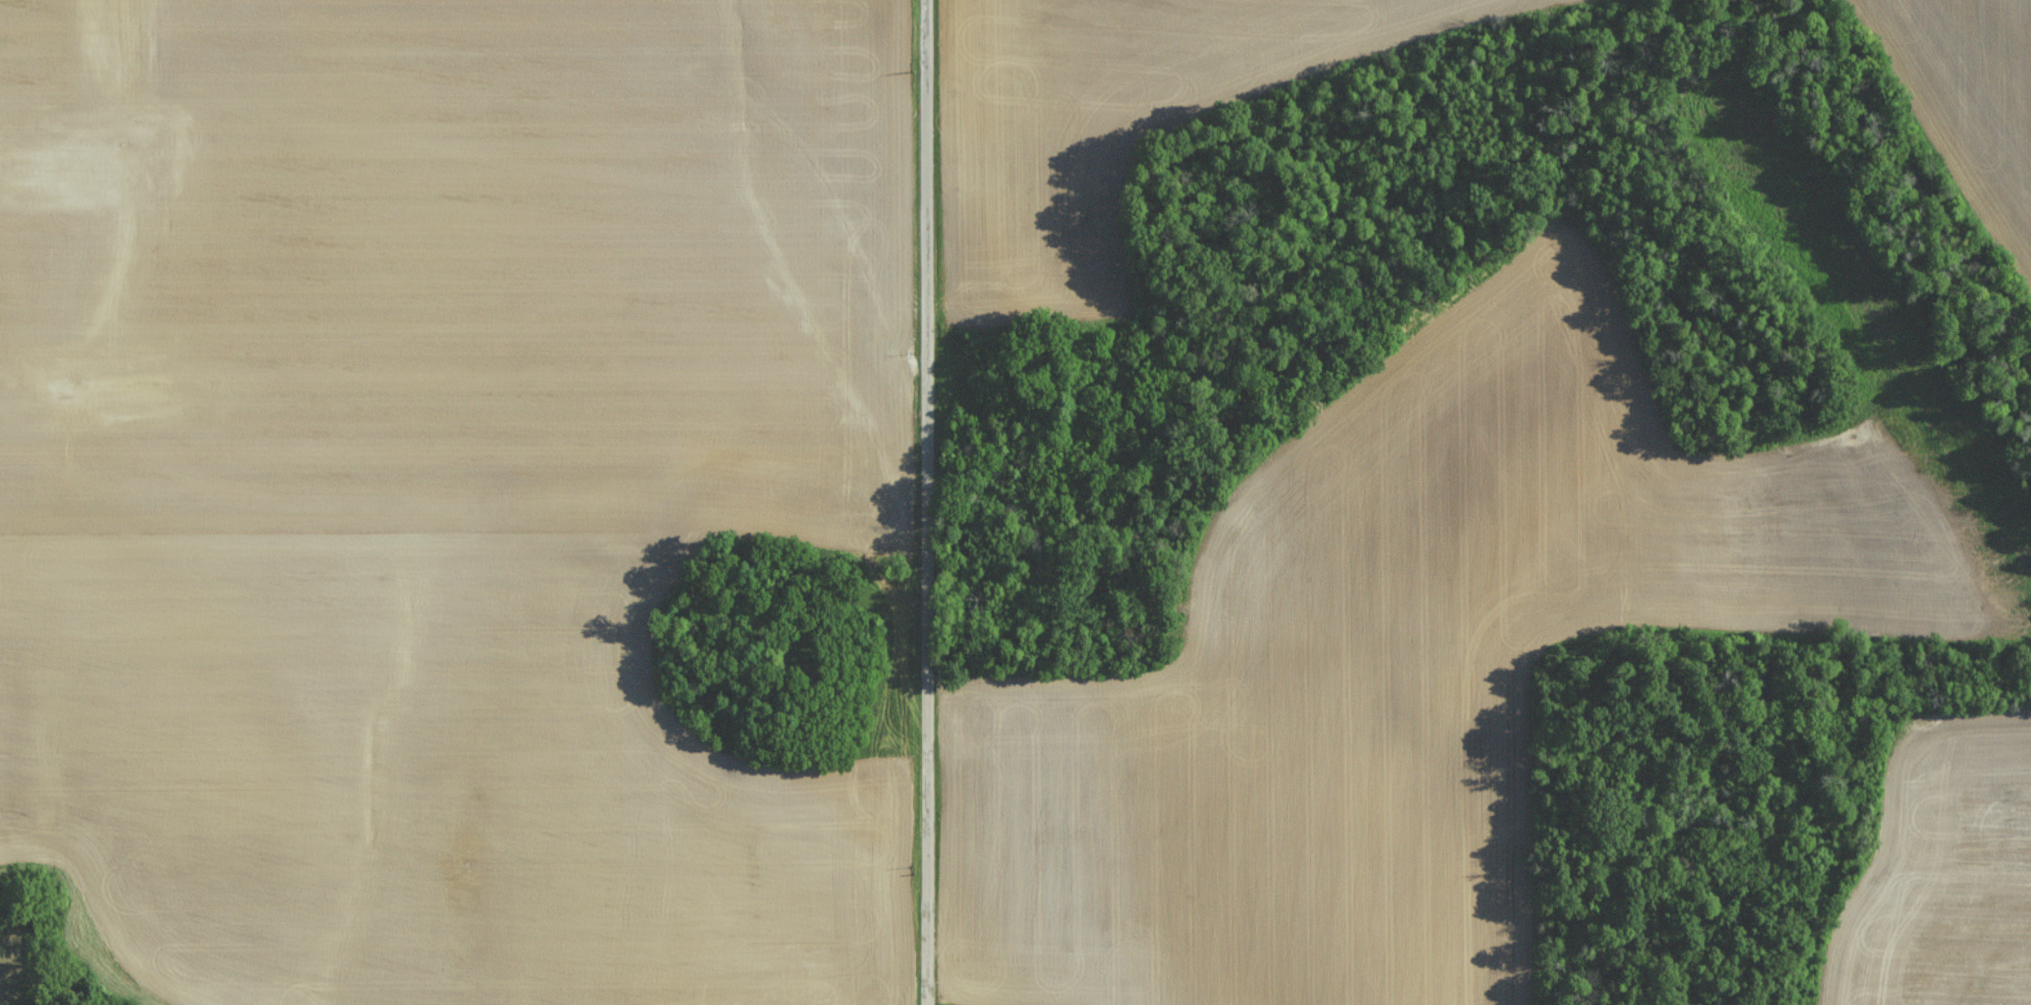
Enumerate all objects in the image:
road: (933, 502)

